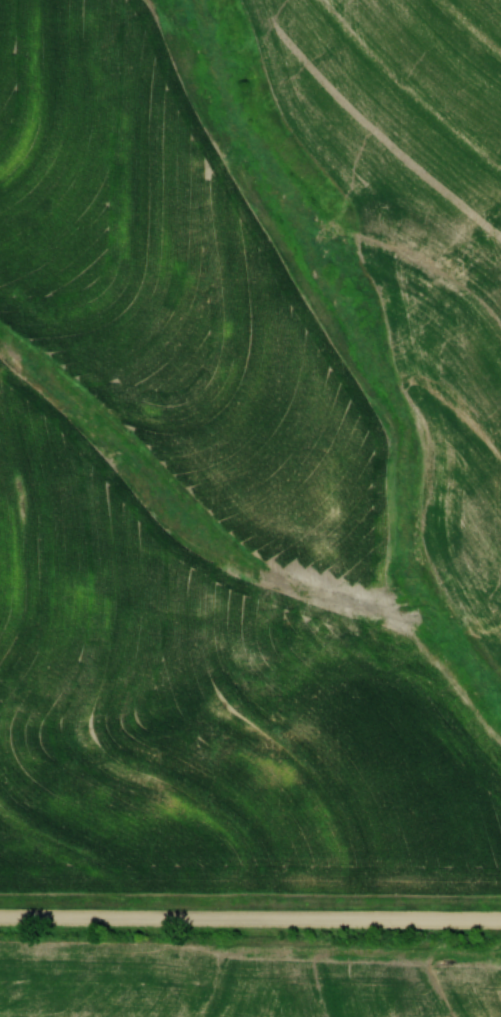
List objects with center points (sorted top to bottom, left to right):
road: (250, 925)

